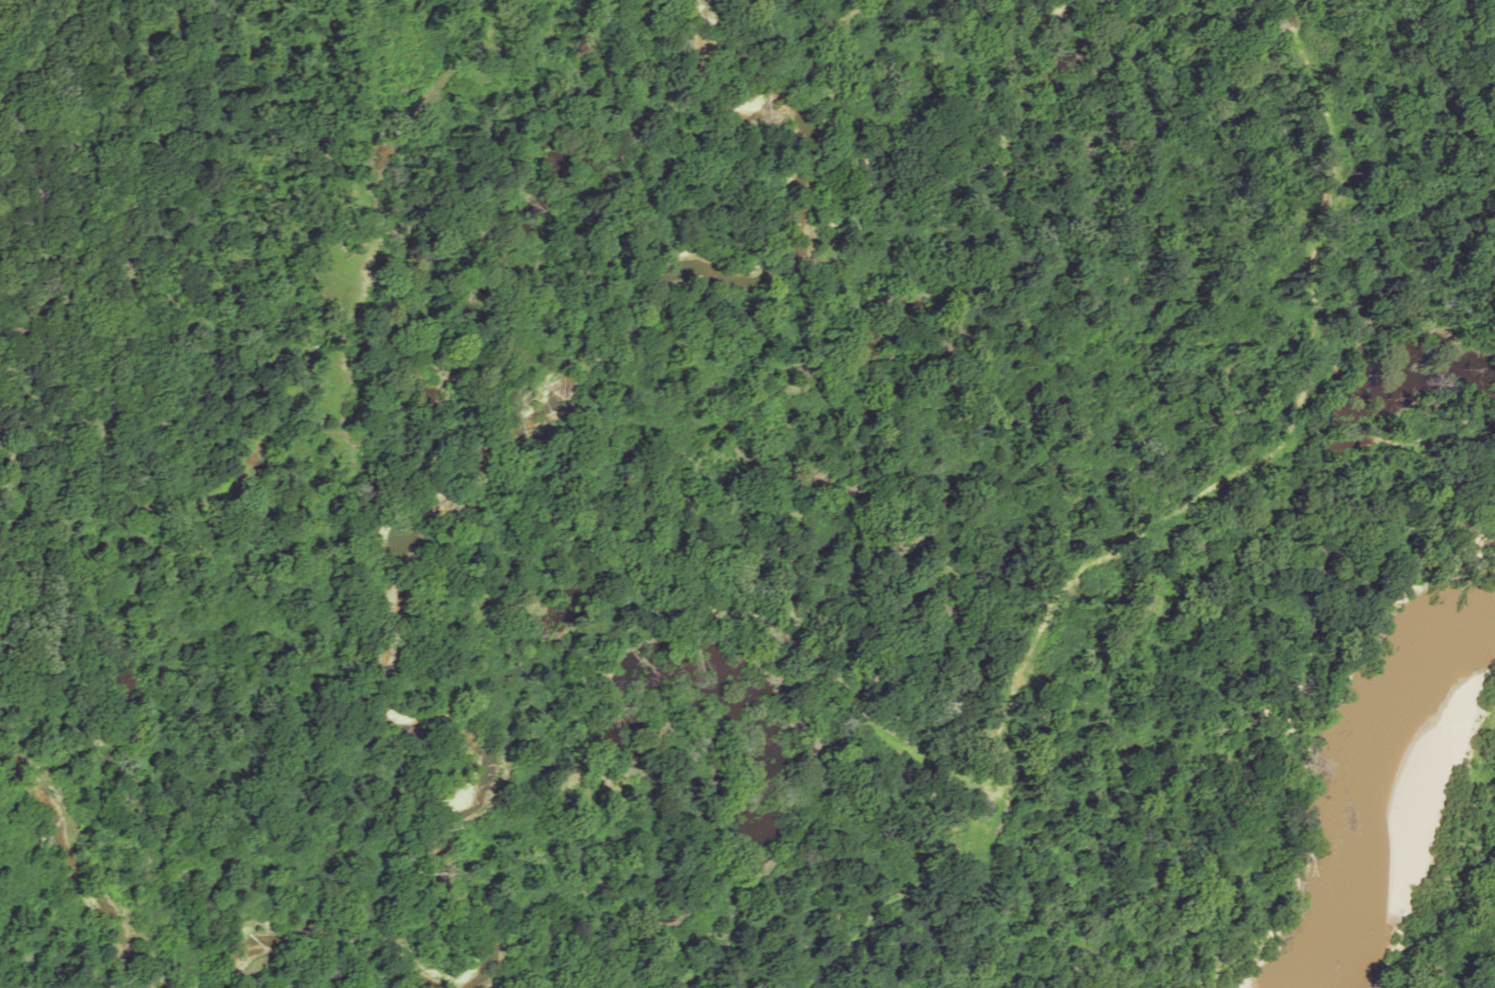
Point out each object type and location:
river: (1403, 861)

